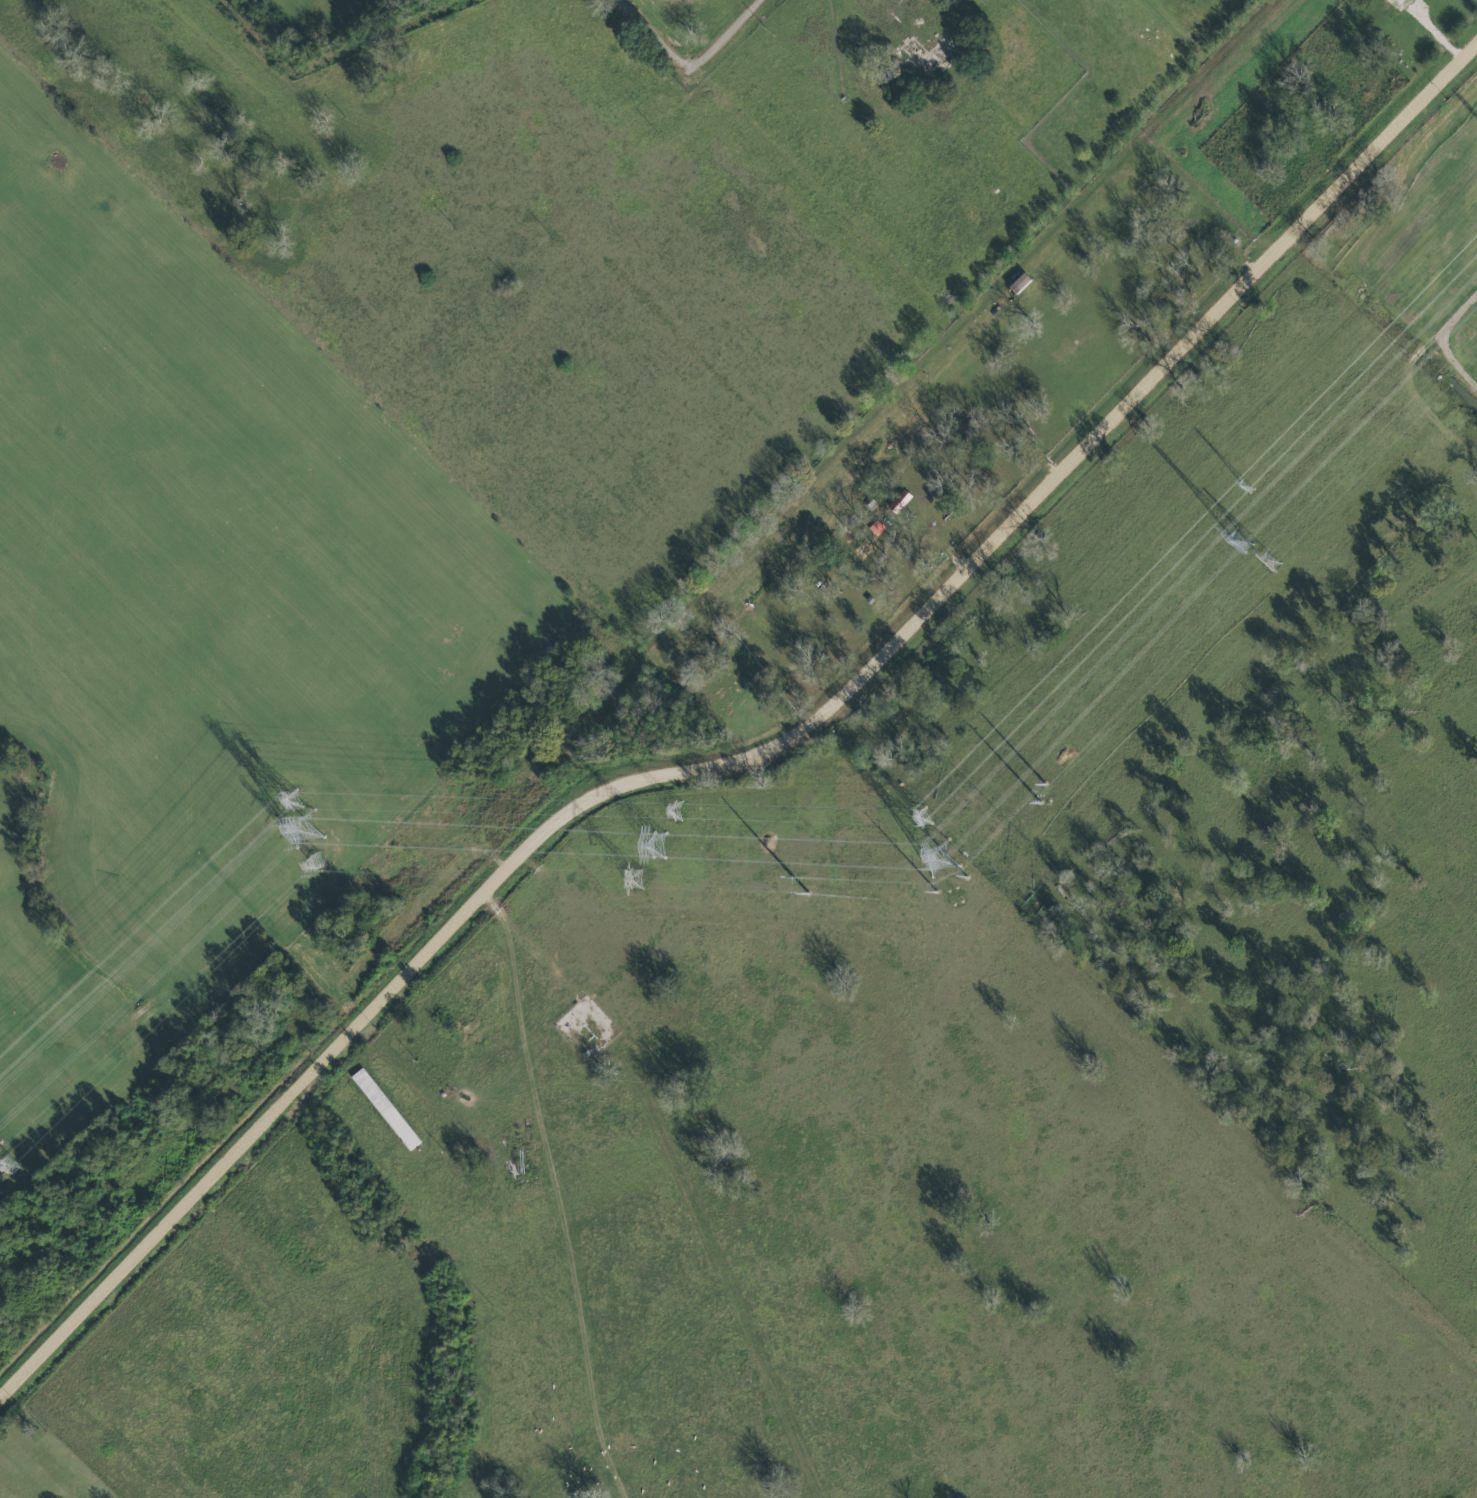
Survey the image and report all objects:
road: (651, 36)
road: (723, 36)
power tower: (1247, 486)
power tower: (1240, 543)
power tower: (1266, 561)
railway: (654, 636)
park: (726, 680)
road: (754, 758)
power tower: (296, 806)
power tower: (674, 810)
power tower: (923, 817)
power tower: (305, 832)
power tower: (659, 847)
power tower: (318, 861)
power tower: (940, 861)
power tower: (637, 879)
power tower: (956, 897)
power tower: (12, 1167)
road: (554, 1198)

